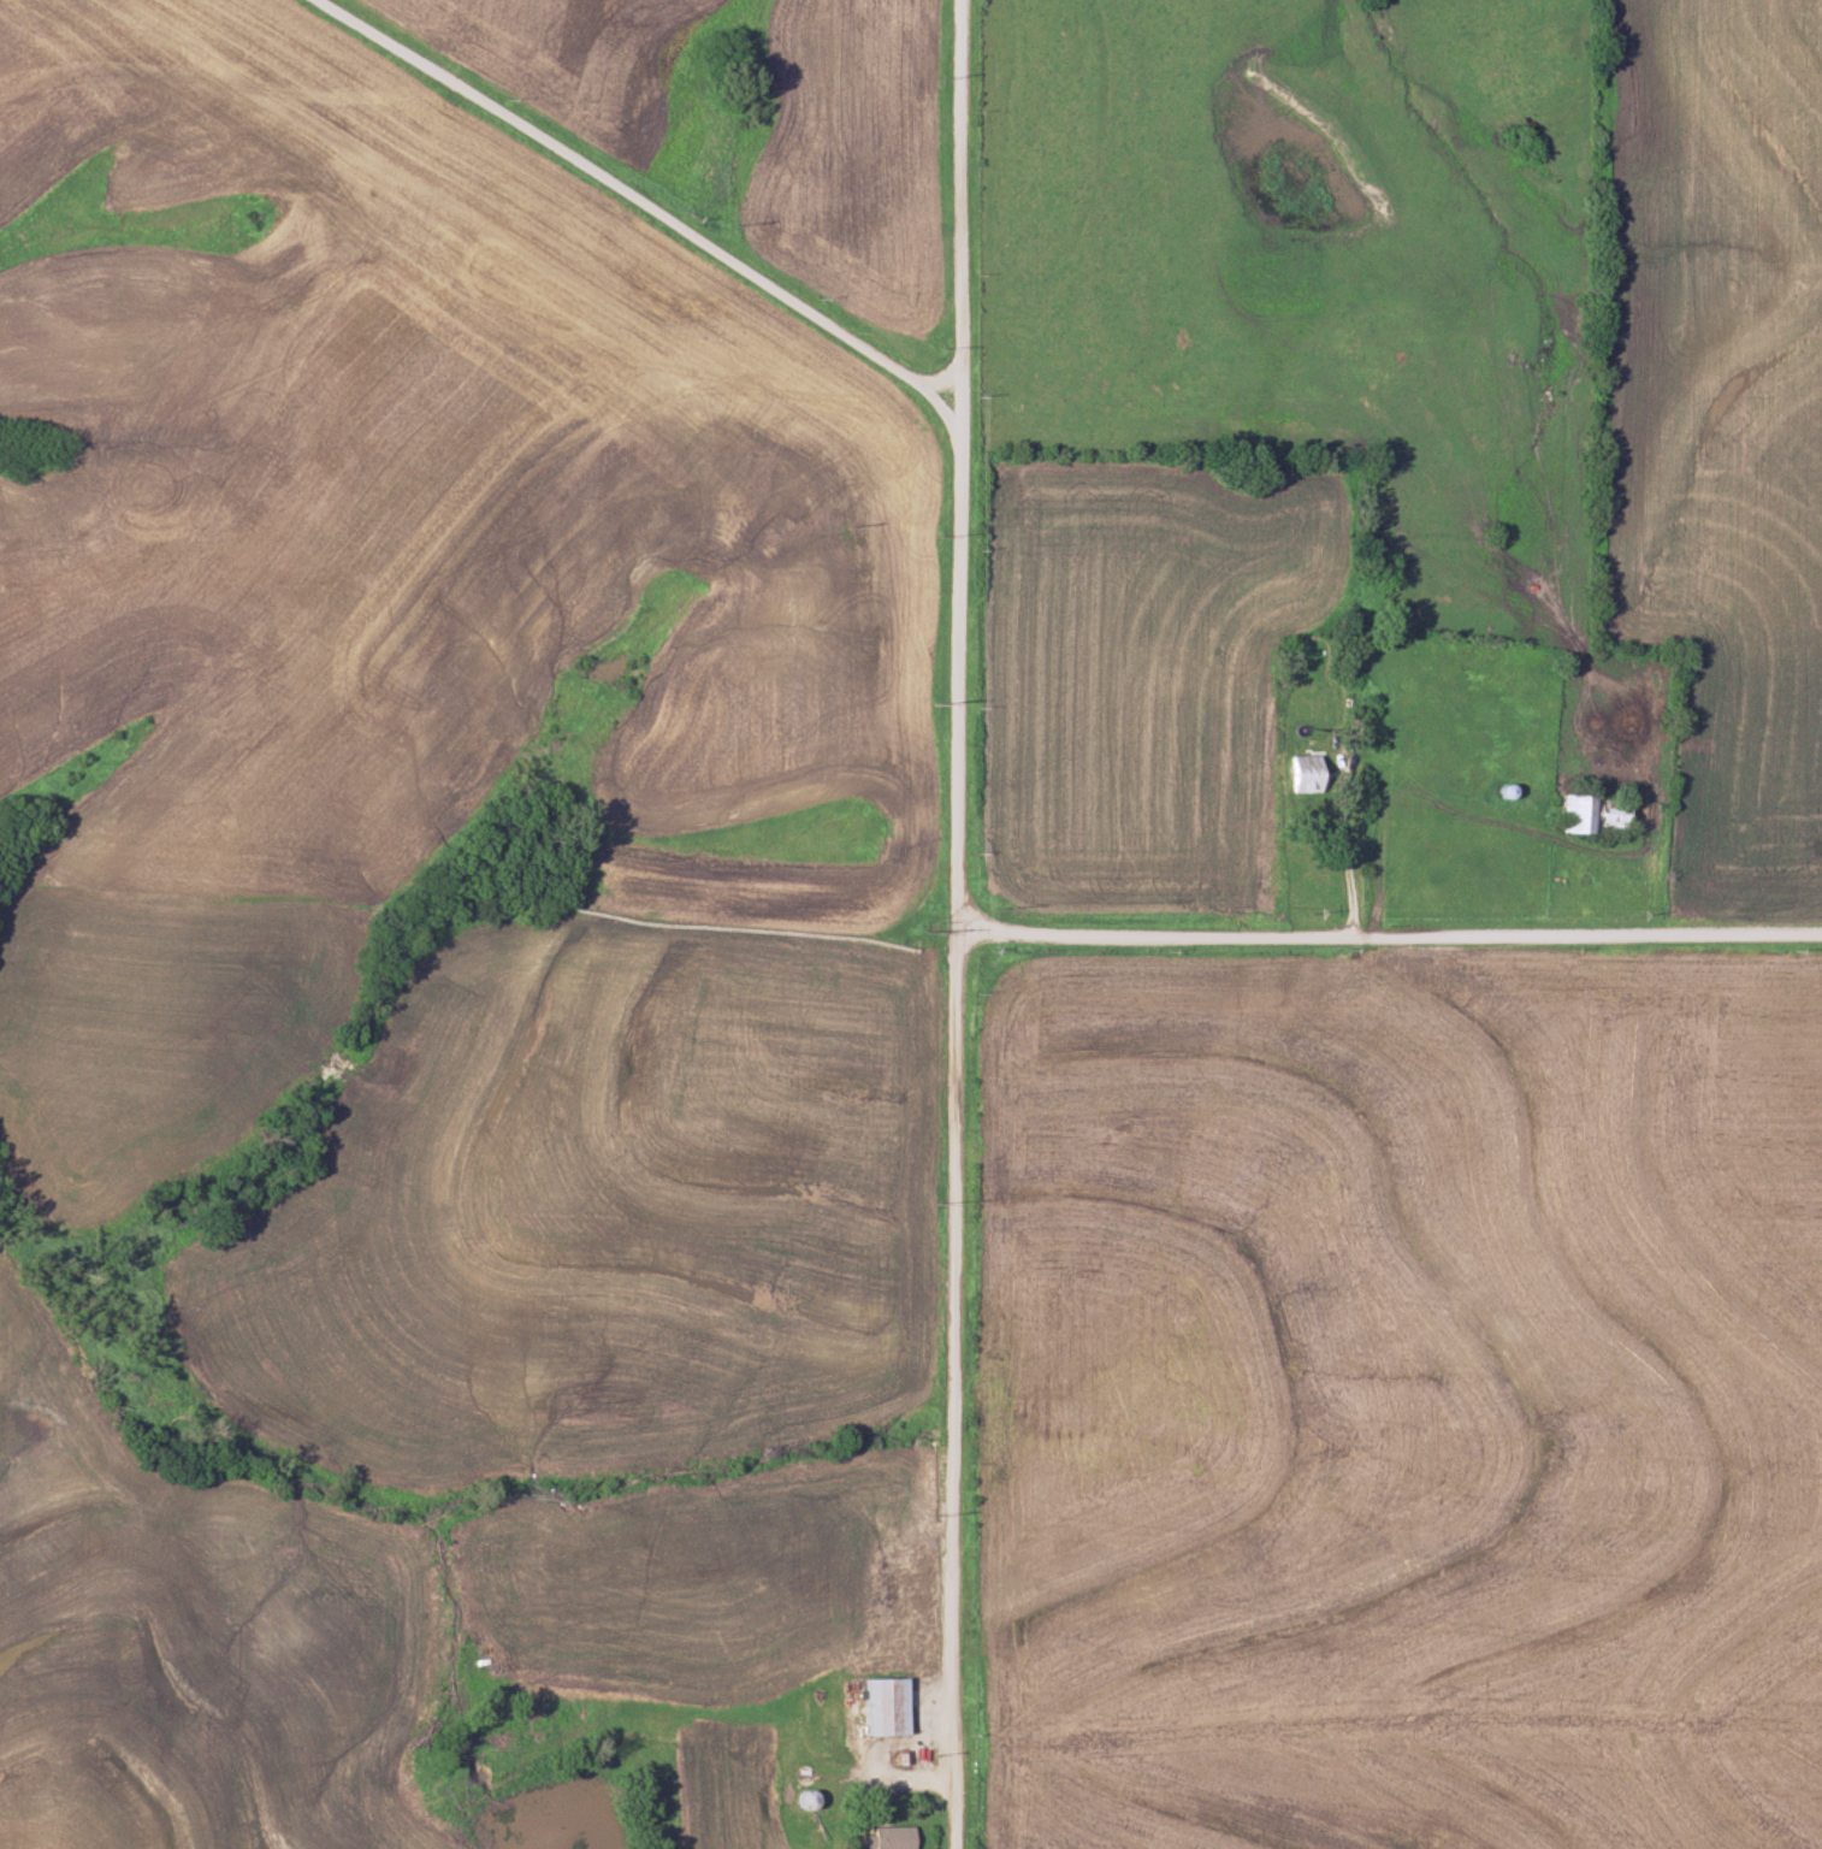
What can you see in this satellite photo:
road: (655, 206)
building: (1300, 773)
building: (1504, 791)
building: (1590, 815)
road: (958, 924)
road: (1390, 935)
building: (880, 1707)
building: (883, 1838)

